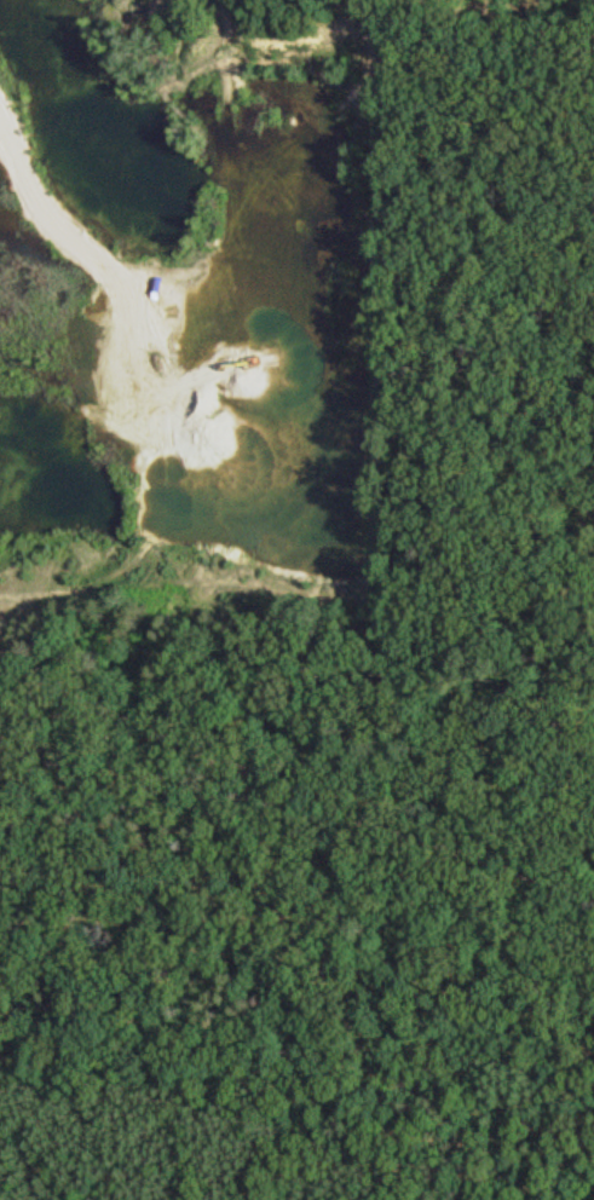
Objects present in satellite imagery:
quarry: (212, 312)

